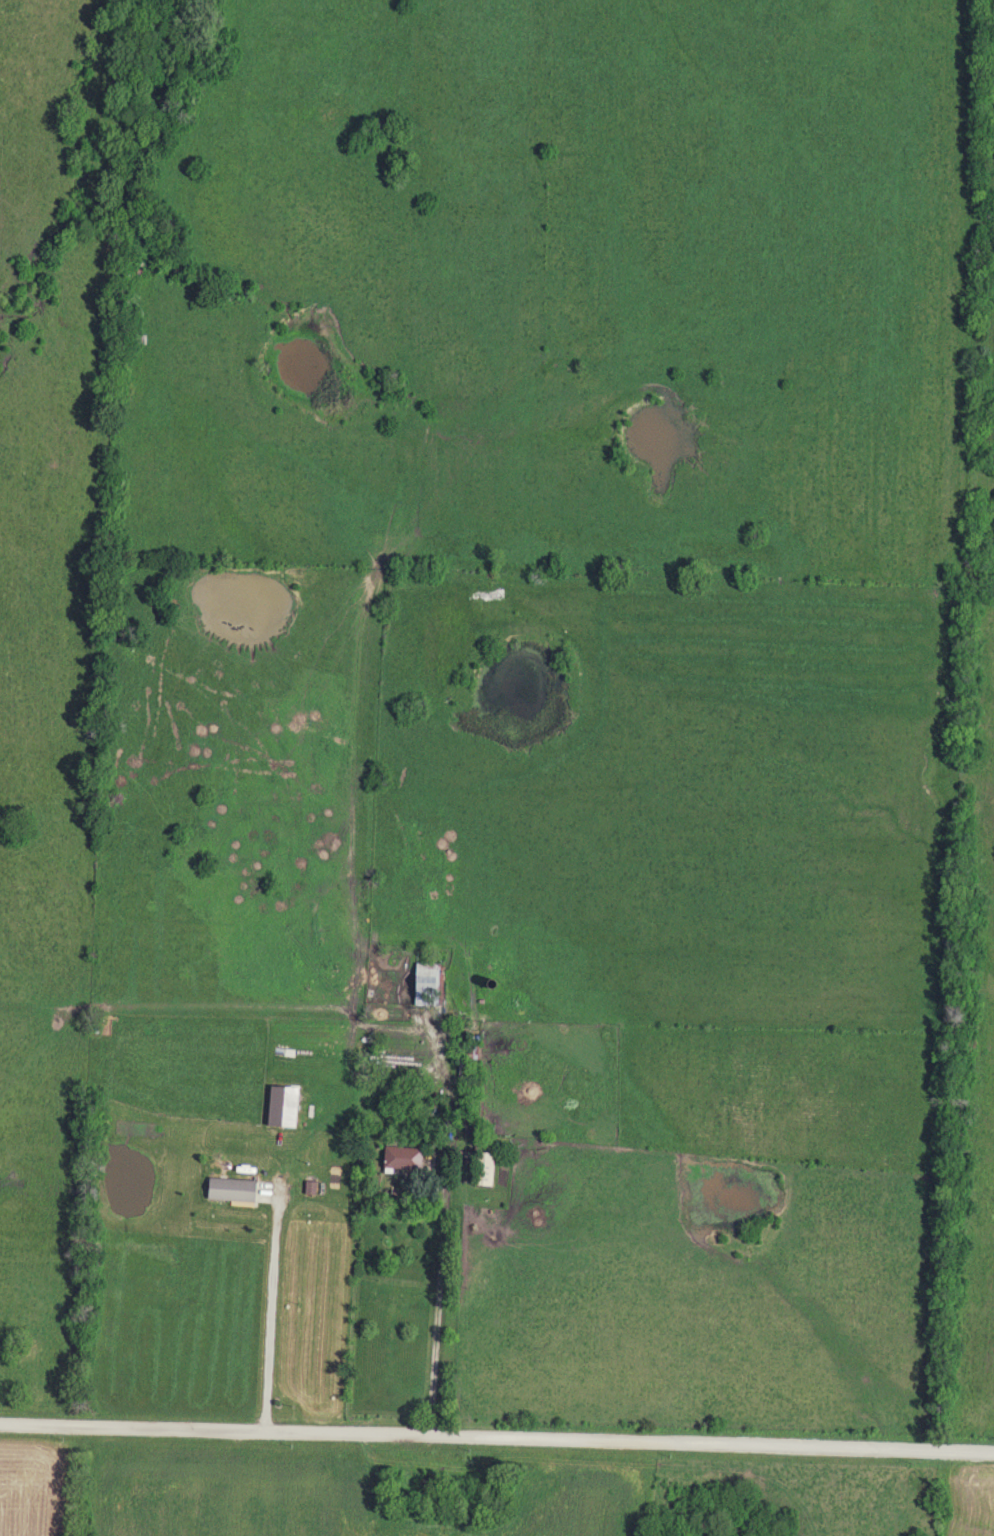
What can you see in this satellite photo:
building: (423, 982)
building: (484, 983)
building: (398, 1158)
building: (480, 1169)
building: (227, 1189)
road: (436, 1308)
road: (271, 1312)
road: (497, 1439)

